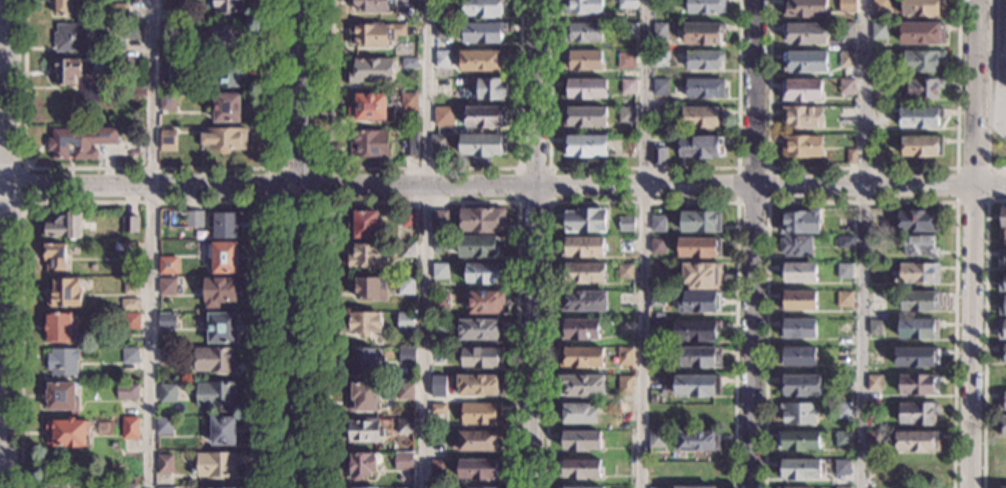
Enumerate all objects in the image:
building: (170, 3)
building: (627, 4)
building: (375, 5)
building: (659, 5)
building: (848, 5)
building: (227, 6)
building: (706, 6)
building: (881, 6)
building: (63, 7)
building: (583, 7)
building: (923, 7)
building: (483, 8)
building: (804, 8)
building: (118, 13)
building: (660, 30)
building: (847, 30)
building: (132, 31)
building: (170, 31)
building: (442, 31)
building: (628, 31)
building: (483, 32)
building: (583, 32)
building: (880, 32)
building: (703, 33)
building: (805, 33)
building: (922, 33)
building: (375, 34)
building: (220, 37)
building: (70, 39)
building: (444, 59)
building: (660, 59)
building: (879, 59)
building: (582, 60)
building: (704, 60)
building: (847, 60)
building: (481, 61)
building: (627, 61)
building: (805, 61)
building: (922, 61)
building: (409, 64)
building: (75, 70)
building: (169, 70)
building: (371, 71)
building: (230, 73)
building: (628, 86)
building: (442, 87)
building: (661, 87)
building: (846, 87)
building: (704, 88)
building: (491, 89)
building: (585, 89)
building: (923, 89)
building: (801, 90)
road: (987, 93)
building: (168, 102)
building: (409, 102)
building: (227, 107)
building: (370, 107)
building: (444, 115)
building: (627, 115)
building: (660, 115)
building: (846, 116)
building: (485, 117)
building: (584, 117)
building: (703, 117)
building: (801, 118)
building: (920, 118)
building: (224, 140)
building: (168, 141)
building: (80, 143)
building: (370, 144)
building: (413, 145)
building: (439, 146)
building: (481, 146)
building: (585, 146)
building: (700, 147)
building: (801, 147)
building: (922, 147)
building: (658, 156)
building: (851, 156)
building: (879, 156)
road: (862, 167)
road: (146, 168)
road: (424, 168)
road: (643, 168)
road: (24, 184)
road: (503, 186)
road: (956, 201)
road: (144, 202)
road: (424, 202)
road: (517, 202)
road: (643, 202)
road: (768, 202)
road: (861, 202)
road: (267, 203)
building: (1002, 216)
building: (193, 219)
building: (409, 219)
building: (482, 220)
building: (585, 220)
building: (439, 222)
building: (701, 222)
building: (916, 222)
building: (172, 223)
building: (800, 223)
building: (364, 224)
building: (626, 224)
building: (658, 224)
building: (129, 225)
building: (225, 225)
building: (66, 226)
building: (1002, 235)
building: (845, 242)
road: (6, 243)
road: (152, 243)
road: (301, 243)
road: (427, 243)
road: (531, 243)
road: (640, 243)
road: (754, 243)
road: (861, 243)
building: (440, 244)
road: (972, 244)
building: (480, 245)
building: (626, 246)
building: (657, 246)
building: (796, 246)
building: (920, 246)
building: (582, 247)
building: (699, 248)
building: (129, 249)
building: (407, 249)
building: (368, 255)
building: (55, 257)
building: (223, 257)
building: (1001, 258)
building: (167, 265)
building: (440, 271)
building: (658, 271)
building: (845, 271)
building: (625, 272)
building: (799, 272)
building: (485, 273)
building: (582, 273)
building: (918, 274)
building: (702, 275)
building: (1002, 283)
building: (131, 287)
building: (167, 287)
building: (405, 287)
building: (367, 288)
building: (221, 291)
building: (64, 293)
building: (657, 299)
building: (844, 299)
building: (625, 300)
building: (797, 300)
building: (583, 301)
building: (877, 301)
building: (919, 301)
building: (440, 302)
building: (700, 302)
building: (486, 303)
building: (129, 305)
building: (1002, 306)
building: (659, 315)
building: (168, 321)
building: (405, 321)
building: (131, 322)
building: (364, 323)
building: (438, 327)
building: (624, 327)
building: (657, 327)
building: (843, 327)
building: (874, 327)
building: (61, 328)
building: (222, 328)
building: (797, 328)
building: (479, 329)
building: (580, 329)
building: (918, 329)
building: (697, 330)
building: (1001, 330)
road: (983, 334)
building: (1002, 353)
building: (406, 355)
building: (438, 355)
building: (843, 355)
building: (166, 356)
building: (797, 356)
building: (876, 356)
building: (482, 357)
building: (581, 357)
building: (626, 357)
building: (701, 357)
building: (917, 357)
building: (130, 359)
building: (214, 360)
building: (363, 361)
building: (63, 362)
building: (874, 382)
building: (437, 383)
building: (655, 383)
building: (625, 385)
building: (697, 385)
building: (800, 385)
building: (919, 385)
building: (480, 386)
building: (581, 386)
building: (404, 391)
building: (127, 392)
building: (168, 393)
building: (216, 395)
building: (364, 396)
building: (61, 397)
building: (1002, 401)
building: (438, 409)
building: (843, 411)
building: (798, 413)
building: (917, 413)
building: (482, 414)
building: (579, 414)
building: (164, 426)
building: (404, 426)
building: (1002, 426)
building: (130, 428)
building: (103, 429)
building: (222, 431)
building: (364, 431)
building: (67, 433)
building: (842, 439)
building: (657, 440)
building: (477, 441)
building: (580, 441)
building: (698, 441)
building: (798, 441)
building: (915, 441)
building: (874, 443)
building: (403, 461)
building: (165, 464)
building: (216, 464)
building: (363, 465)
building: (437, 467)
building: (843, 467)
building: (480, 469)
building: (578, 469)
building: (798, 469)
building: (56, 485)
building: (128, 486)
building: (165, 487)
building: (224, 487)
building: (357, 487)
building: (404, 487)
building: (435, 487)
building: (477, 487)
building: (573, 487)
building: (656, 487)
building: (689, 487)
building: (795, 487)
building: (842, 487)
building: (1001, 487)

